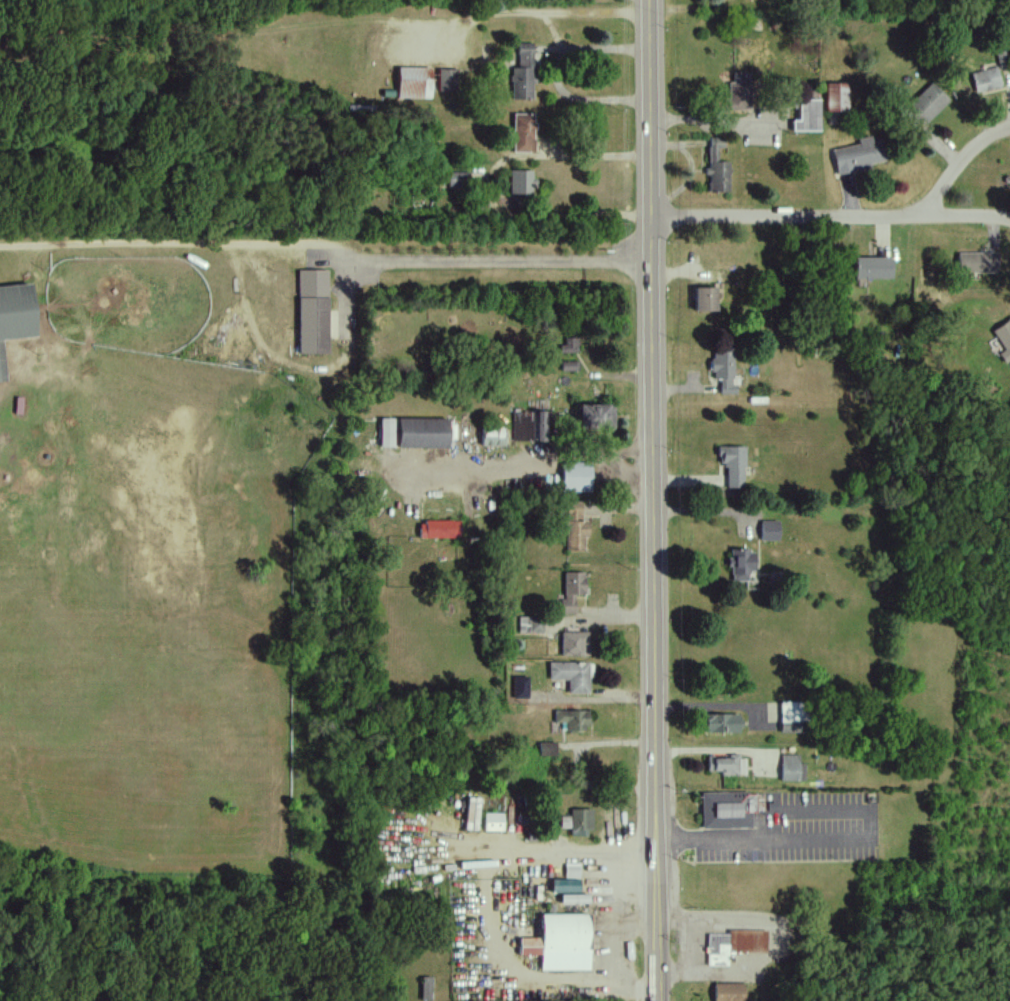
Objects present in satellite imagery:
road: (574, 12)
road: (482, 17)
building: (523, 73)
road: (559, 75)
building: (446, 79)
building: (986, 80)
building: (414, 82)
building: (738, 92)
building: (836, 97)
building: (926, 104)
building: (807, 117)
road: (712, 120)
building: (523, 133)
building: (860, 154)
building: (716, 167)
road: (953, 174)
building: (457, 179)
building: (520, 182)
road: (490, 187)
road: (775, 219)
road: (955, 219)
road: (327, 248)
building: (977, 262)
building: (873, 268)
building: (705, 299)
building: (312, 312)
building: (15, 317)
building: (1003, 340)
building: (571, 345)
building: (724, 371)
building: (596, 417)
building: (523, 426)
building: (541, 427)
building: (386, 433)
building: (425, 433)
building: (492, 437)
road: (653, 441)
road: (523, 459)
building: (733, 465)
building: (576, 477)
road: (704, 512)
building: (575, 526)
building: (438, 530)
building: (770, 531)
building: (742, 565)
building: (572, 590)
building: (531, 624)
building: (575, 644)
building: (571, 675)
building: (520, 685)
building: (792, 717)
building: (573, 720)
building: (722, 723)
road: (611, 742)
building: (547, 749)
building: (792, 768)
building: (727, 810)
building: (493, 822)
building: (578, 823)
road: (807, 839)
building: (568, 880)
building: (574, 899)
road: (639, 920)
road: (619, 923)
road: (658, 941)
building: (560, 942)
road: (777, 943)
building: (734, 945)
road: (696, 947)
building: (426, 988)
building: (729, 992)

